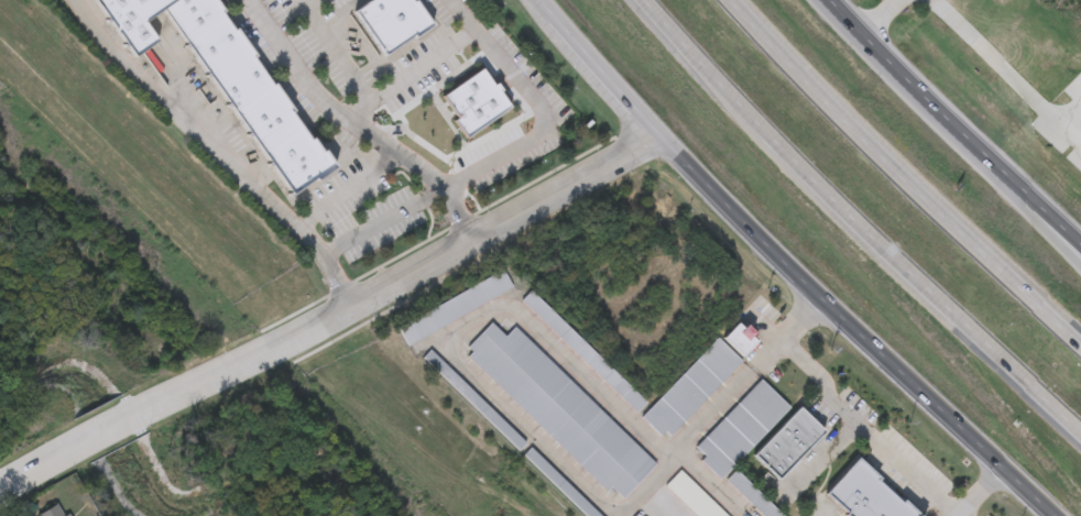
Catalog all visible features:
road: (304, 2)
building: (380, 12)
road: (880, 14)
building: (134, 21)
building: (401, 31)
road: (332, 48)
road: (407, 70)
road: (1007, 70)
building: (250, 95)
road: (537, 105)
building: (477, 107)
road: (1071, 114)
road: (354, 123)
road: (958, 123)
road: (214, 150)
road: (904, 178)
road: (345, 188)
road: (496, 222)
road: (853, 223)
road: (385, 224)
road: (1049, 235)
road: (788, 265)
building: (454, 306)
road: (467, 322)
building: (739, 336)
building: (583, 350)
road: (238, 361)
building: (690, 387)
road: (728, 392)
building: (471, 398)
road: (848, 405)
building: (559, 408)
road: (105, 427)
building: (740, 427)
building: (787, 441)
road: (822, 453)
road: (35, 464)
road: (713, 481)
building: (559, 482)
road: (651, 482)
road: (974, 491)
building: (752, 494)
building: (865, 494)
road: (660, 502)
building: (56, 512)
road: (819, 512)

